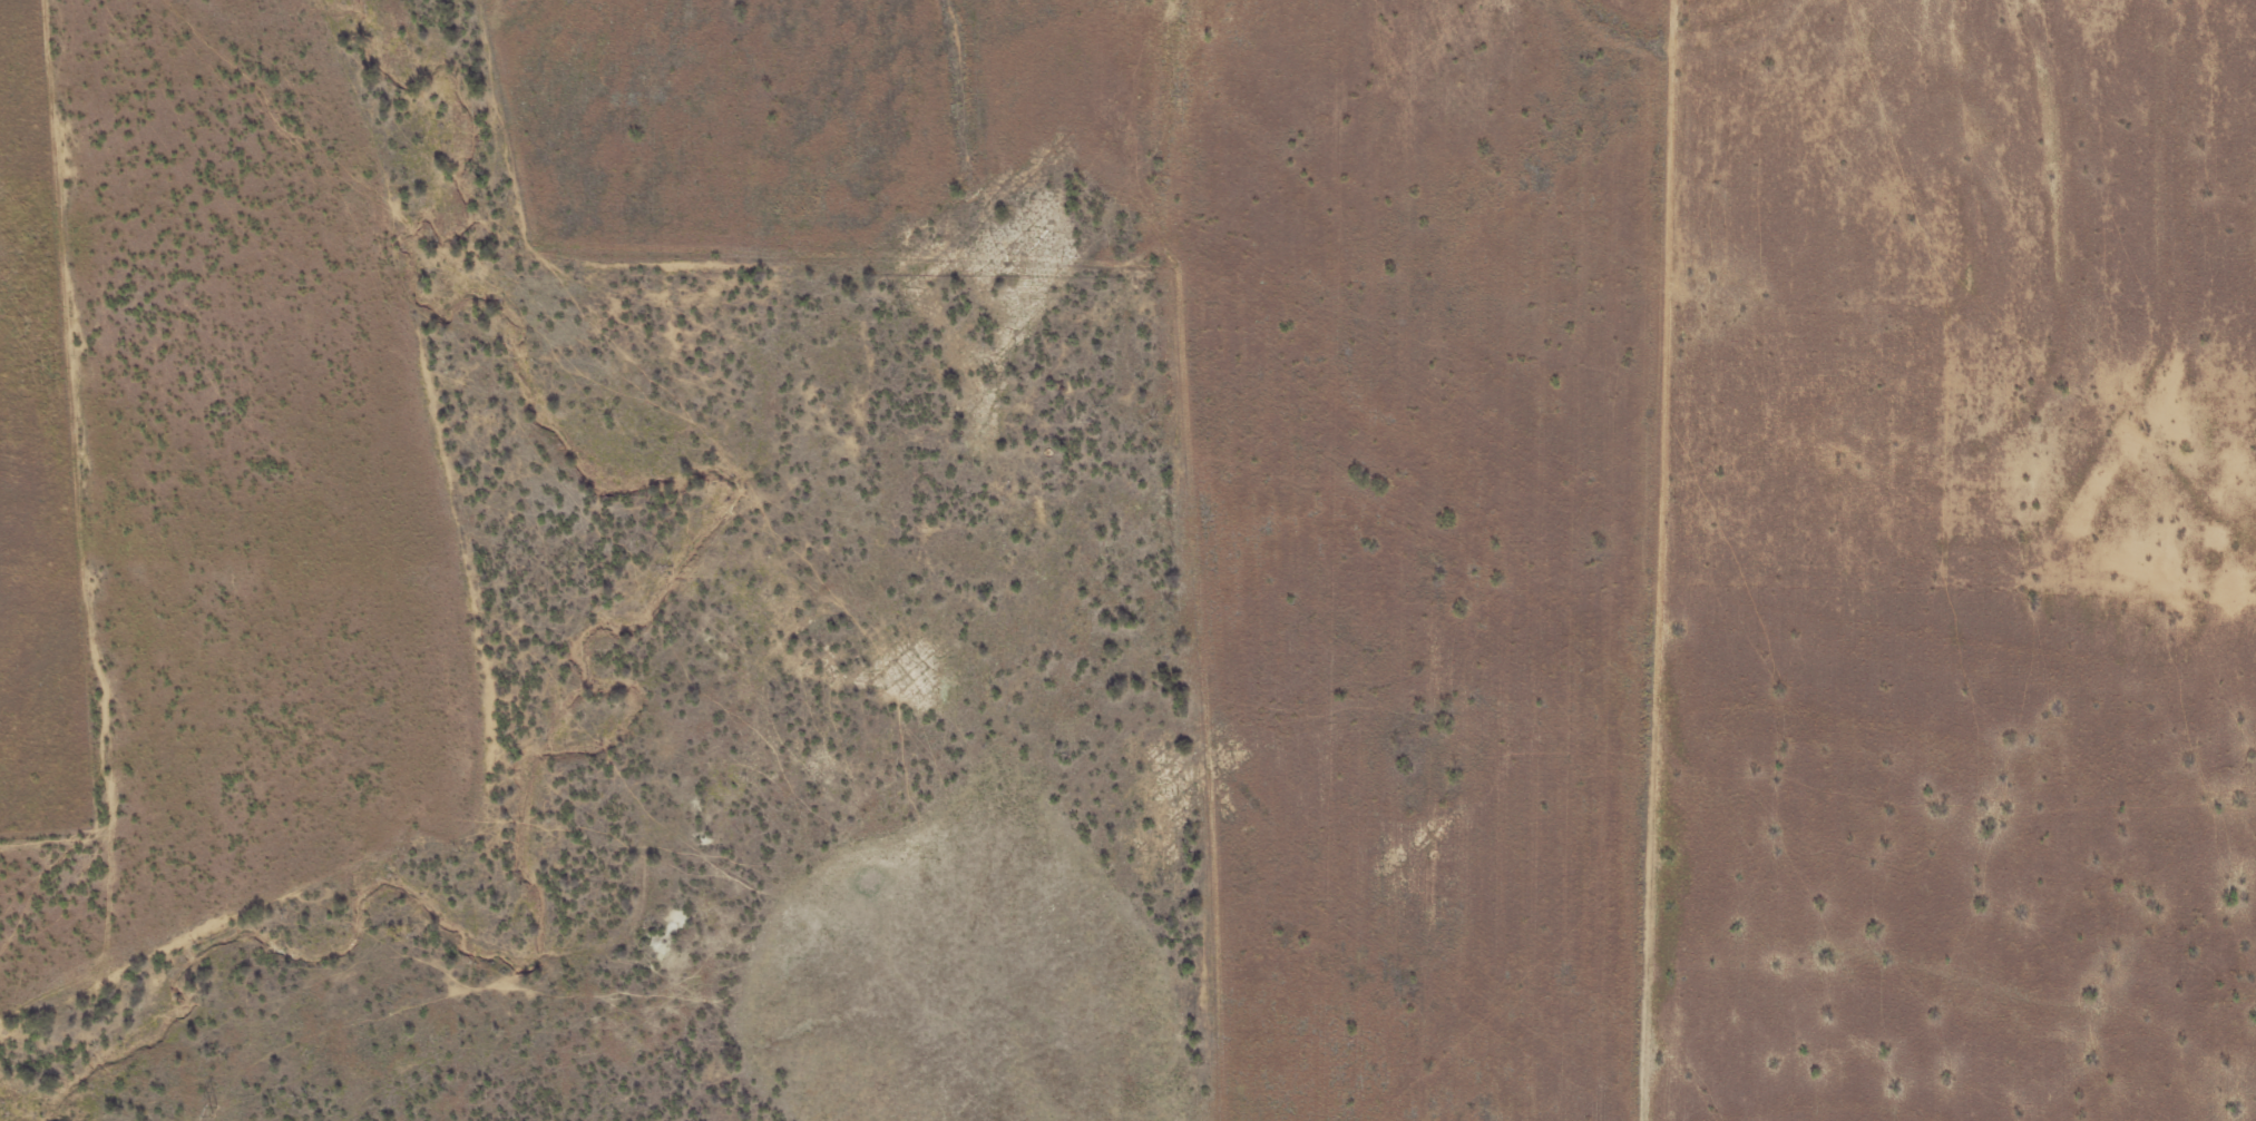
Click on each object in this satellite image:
power tower: (212, 1111)

